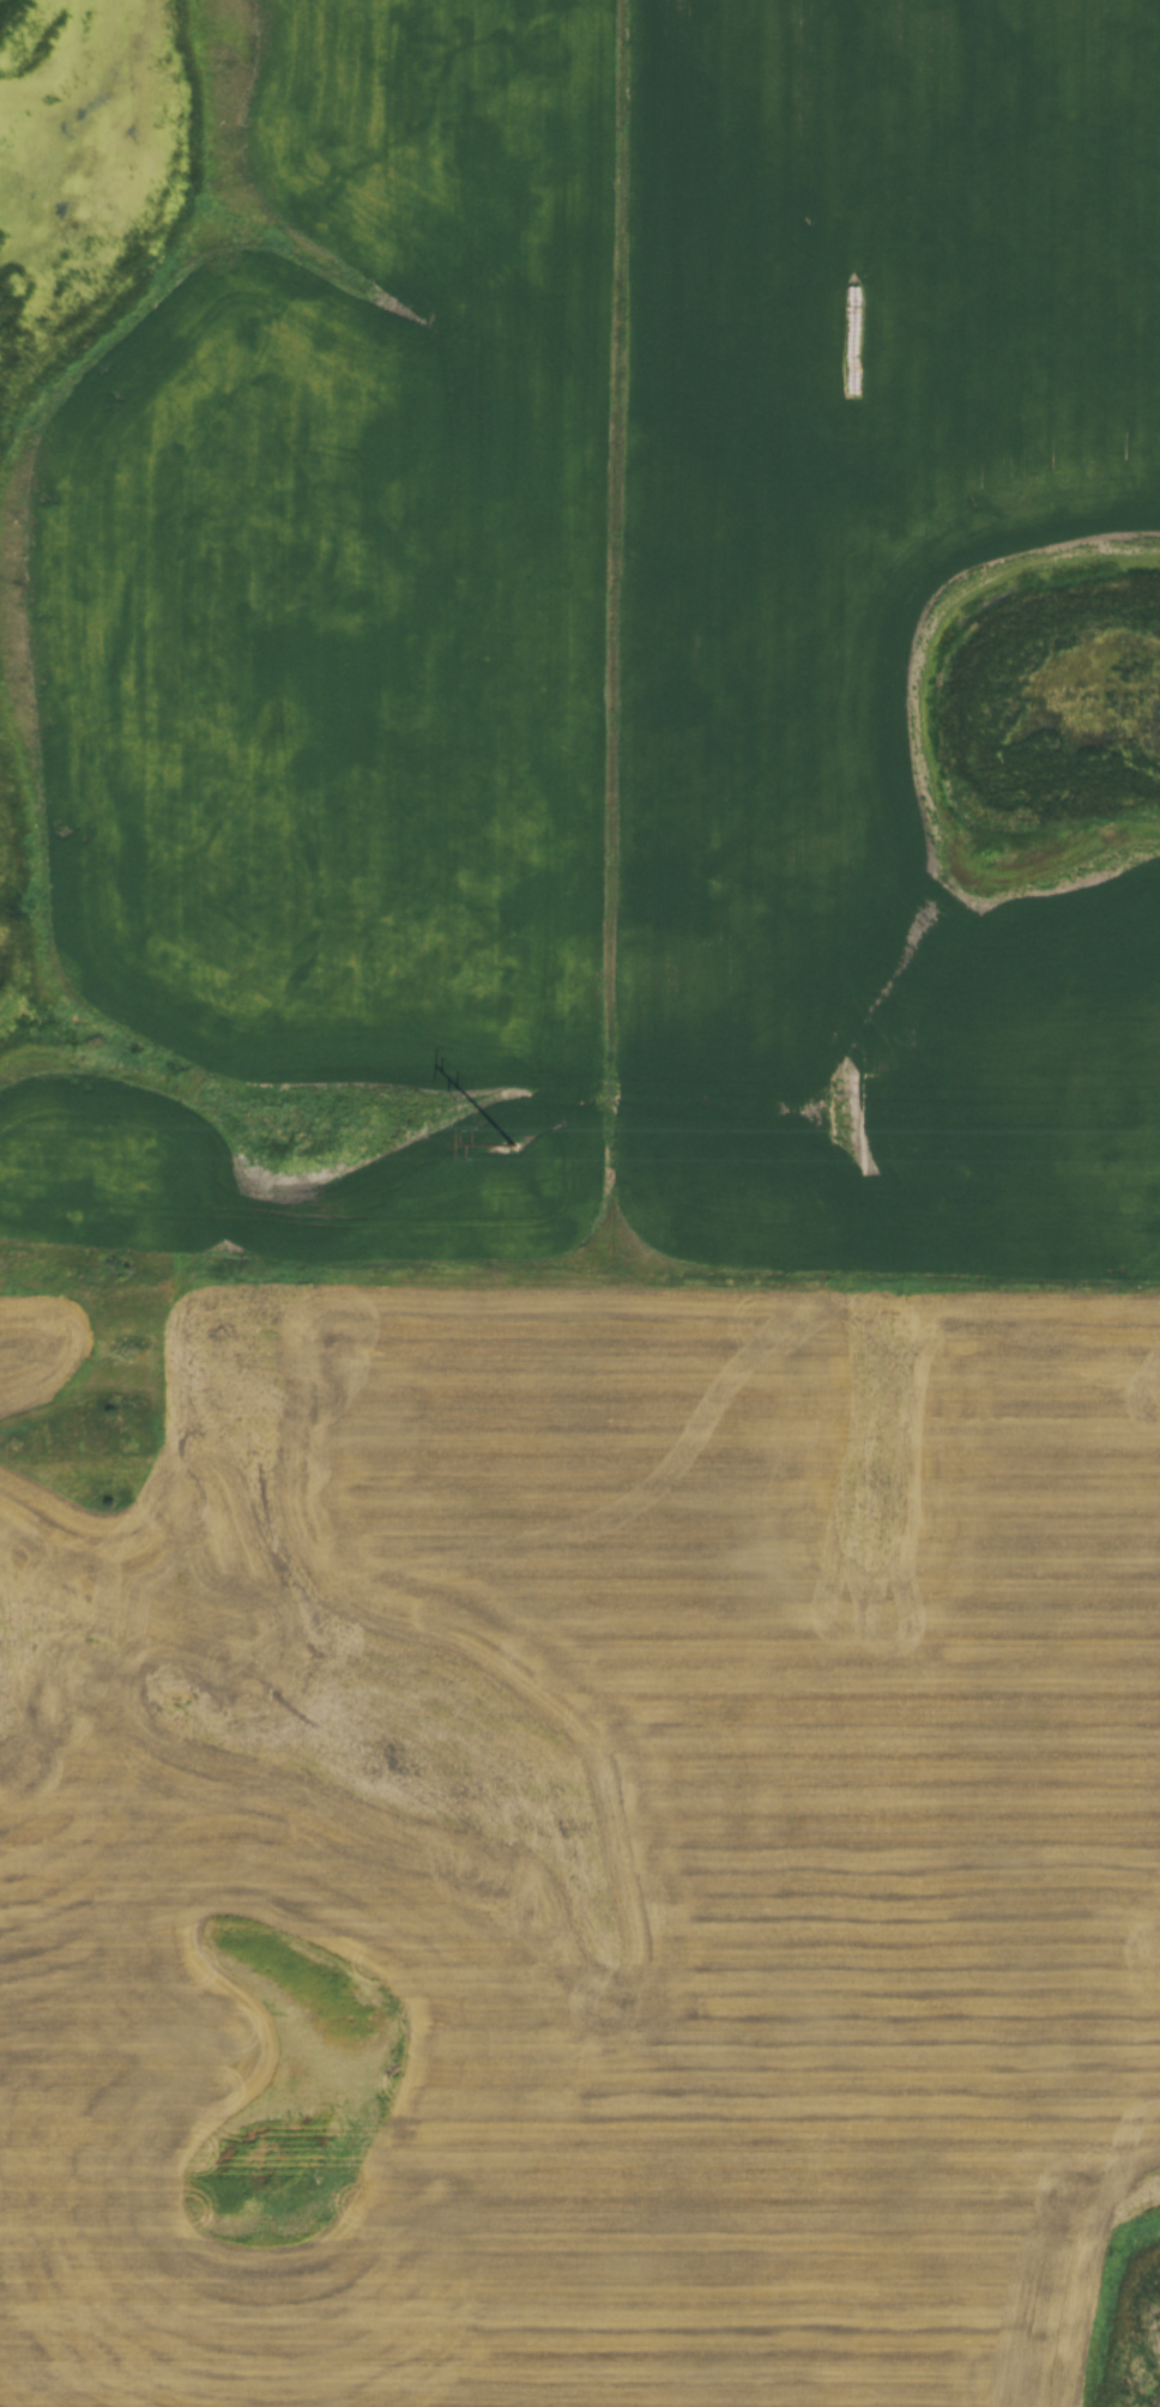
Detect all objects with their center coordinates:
building: (901, 388)
power tower: (510, 1139)

